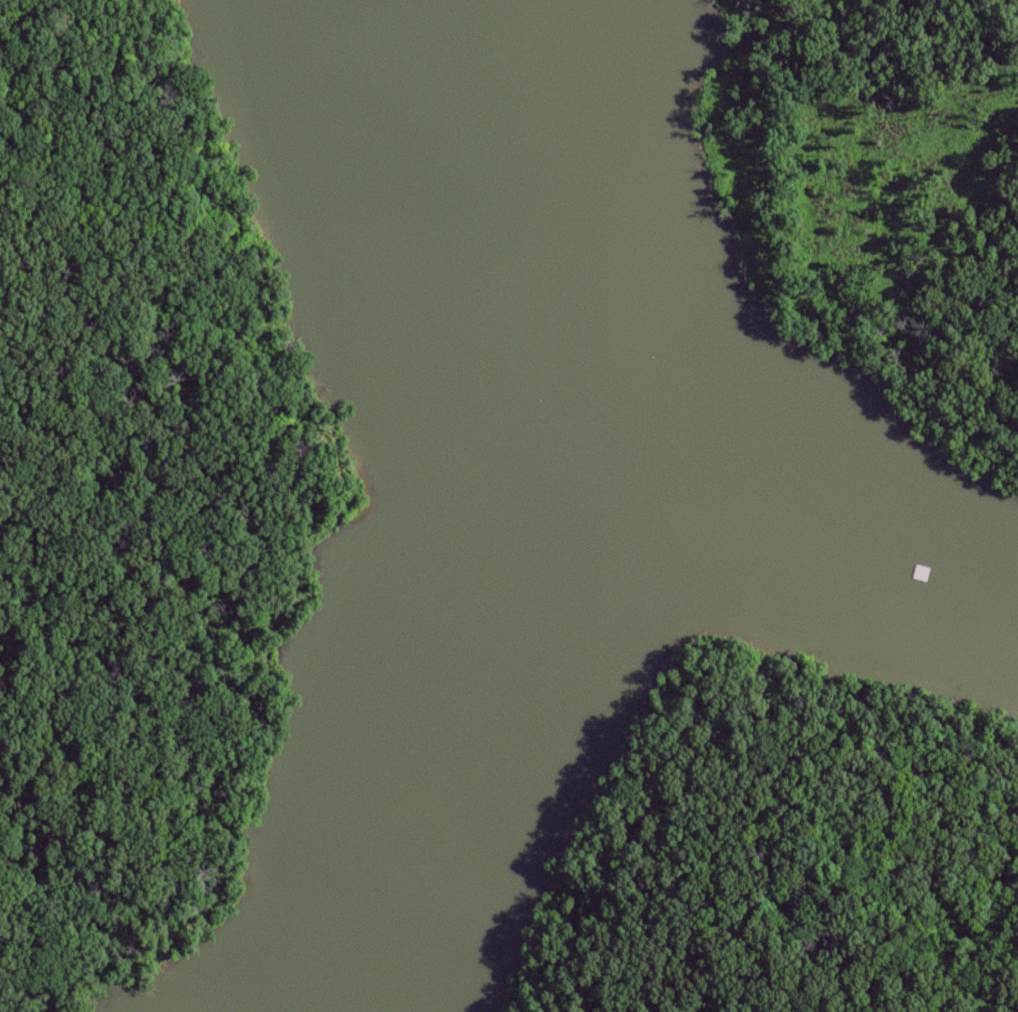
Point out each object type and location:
road: (308, 531)
building: (579, 607)
road: (717, 735)

